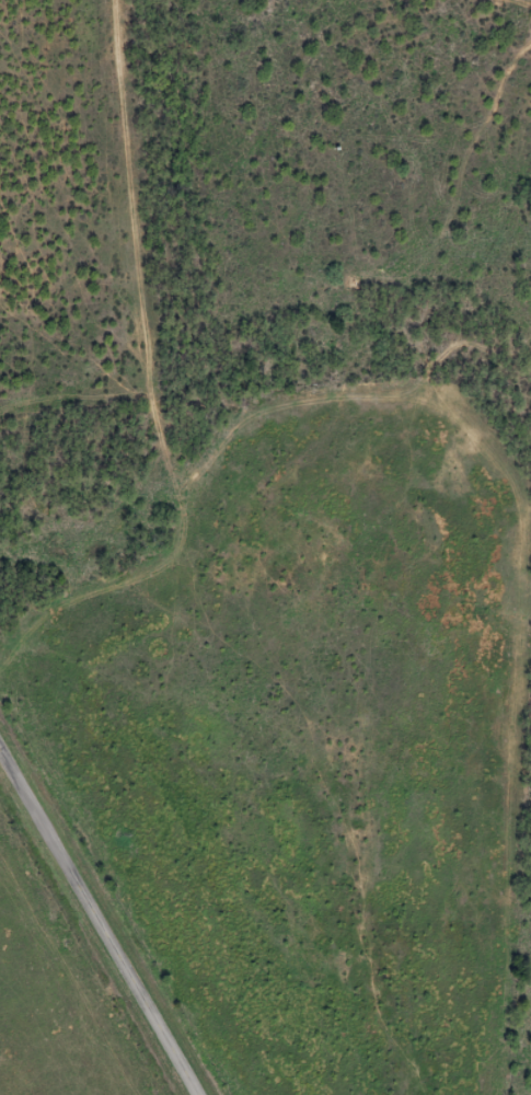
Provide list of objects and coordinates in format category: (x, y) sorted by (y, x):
road: (435, 69)
road: (101, 919)

